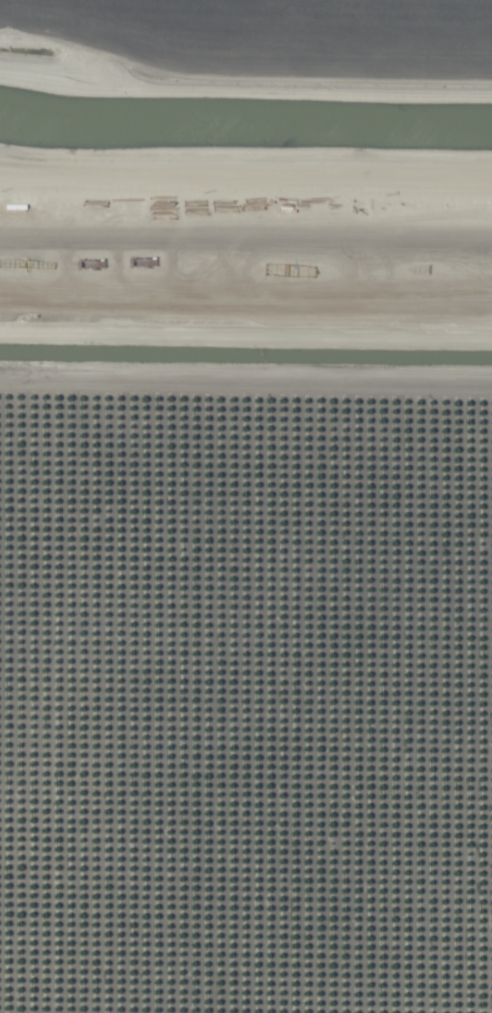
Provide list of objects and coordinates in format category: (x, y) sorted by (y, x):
crop: (246, 506)

